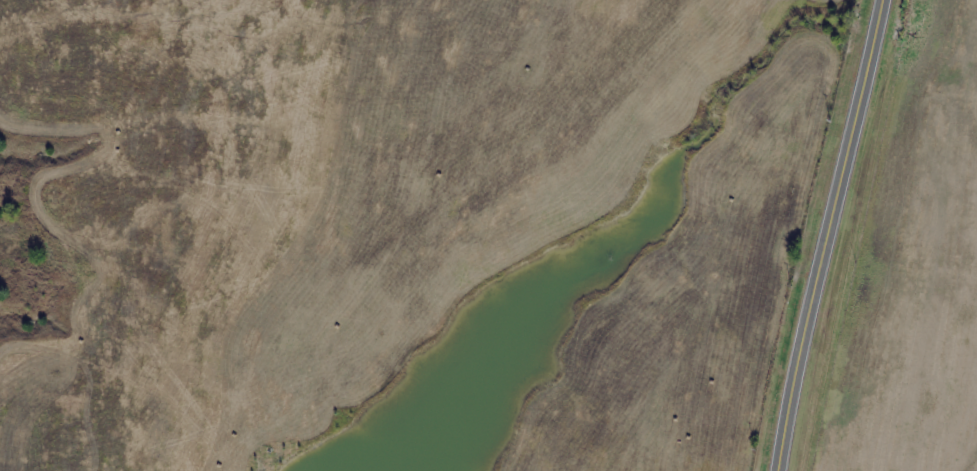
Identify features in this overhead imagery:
road: (824, 234)

